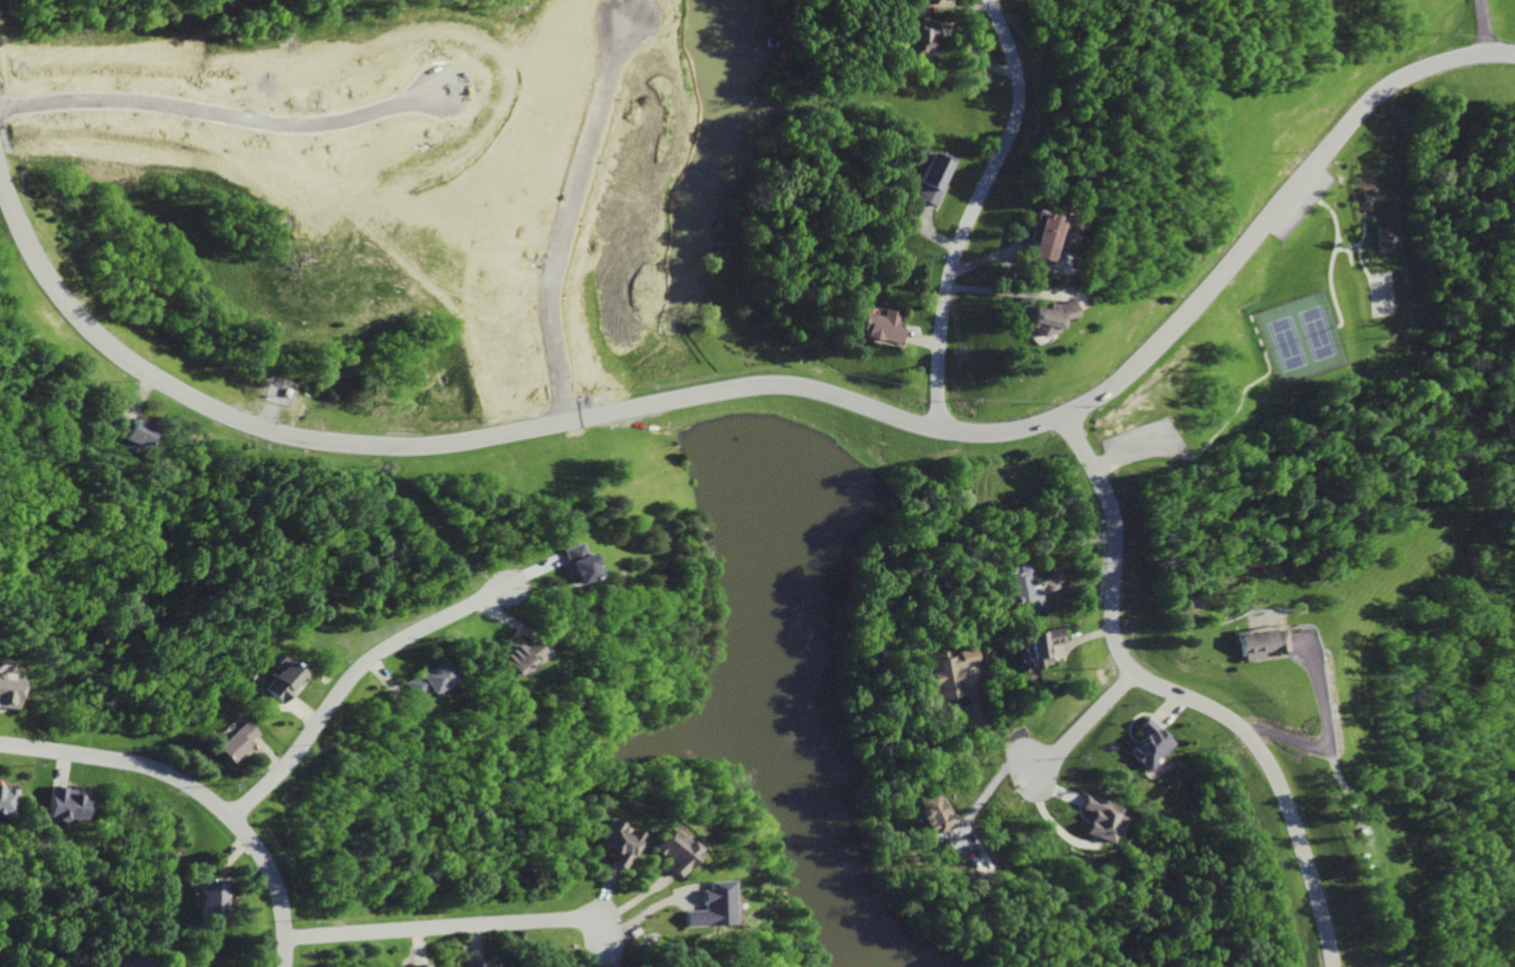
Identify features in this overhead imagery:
building: (911, 1)
road: (990, 7)
building: (915, 42)
building: (928, 178)
road: (1275, 208)
road: (971, 216)
building: (1041, 238)
building: (1380, 239)
building: (1035, 320)
building: (877, 328)
building: (128, 432)
road: (485, 440)
building: (572, 562)
building: (1020, 587)
building: (1254, 641)
building: (1036, 642)
building: (511, 657)
building: (517, 670)
building: (949, 672)
building: (280, 680)
building: (424, 680)
road: (348, 682)
building: (8, 691)
road: (1184, 695)
road: (1089, 721)
road: (999, 735)
building: (234, 740)
building: (1148, 743)
road: (1320, 744)
road: (992, 785)
road: (196, 793)
building: (6, 800)
building: (64, 804)
building: (932, 813)
building: (1100, 820)
building: (619, 843)
building: (670, 853)
building: (208, 897)
building: (703, 903)
road: (441, 928)
building: (134, 962)
building: (477, 964)
building: (417, 966)

